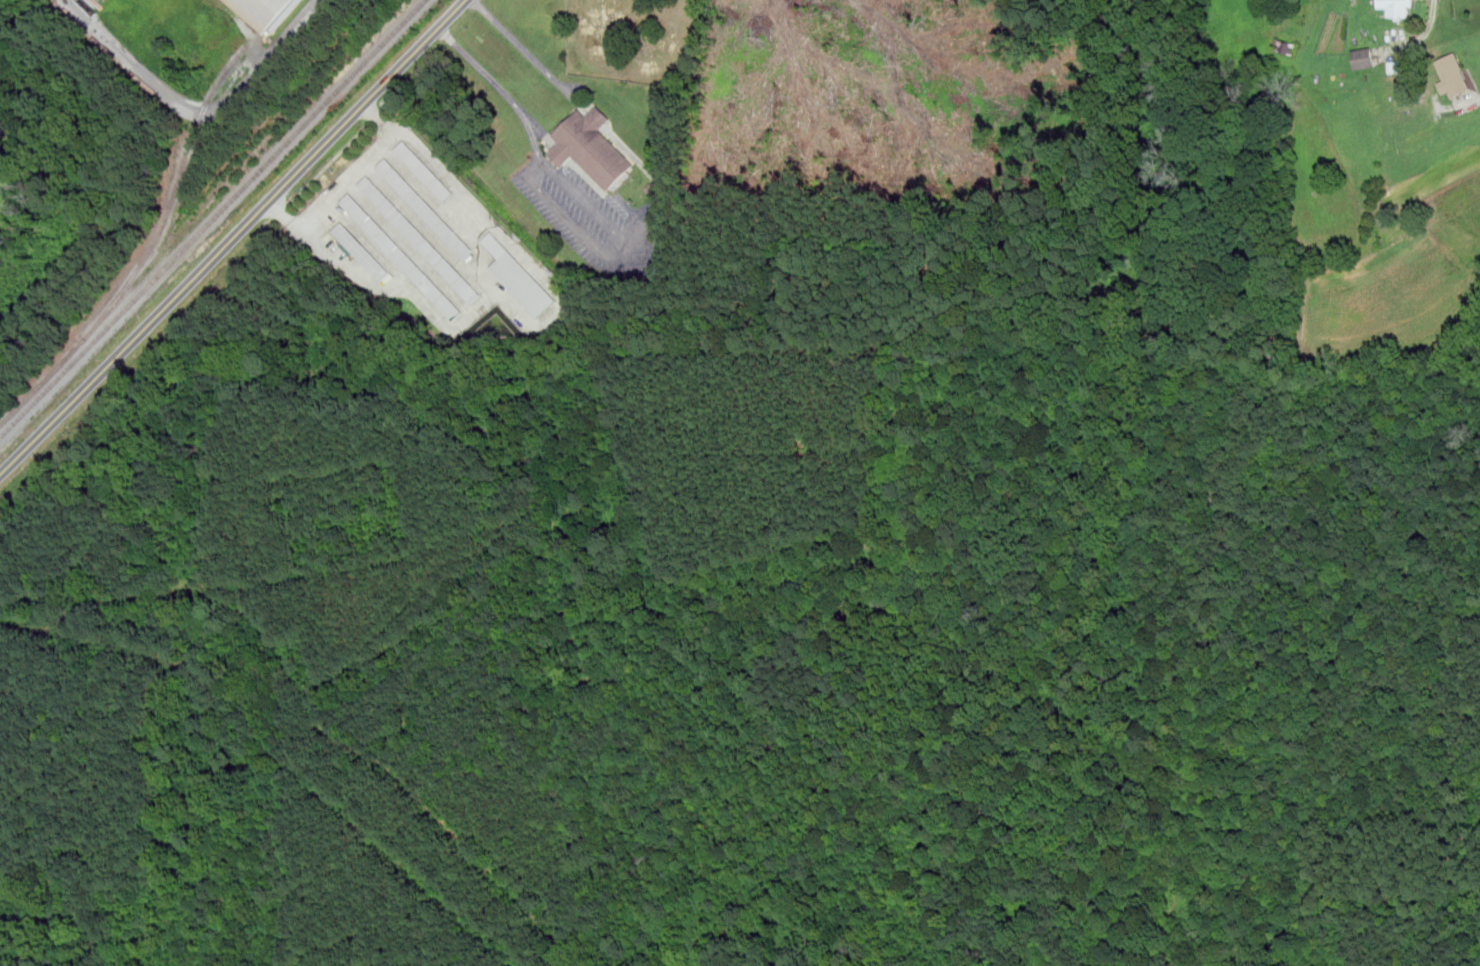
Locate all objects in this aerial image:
building: (1398, 7)
building: (270, 11)
road: (1426, 32)
road: (515, 42)
building: (1287, 46)
building: (1364, 57)
building: (1453, 74)
road: (506, 92)
road: (569, 94)
road: (1475, 99)
road: (201, 107)
road: (584, 109)
road: (595, 119)
building: (589, 148)
road: (544, 160)
railway: (241, 163)
road: (642, 163)
building: (424, 171)
road: (353, 177)
railway: (176, 185)
building: (651, 187)
building: (425, 208)
road: (598, 210)
railway: (213, 218)
road: (233, 238)
building: (419, 238)
road: (603, 249)
building: (362, 250)
building: (402, 256)
building: (519, 277)
railway: (48, 376)
road: (1020, 418)
road: (1081, 466)
road: (315, 704)
park: (707, 782)
road: (1459, 910)

